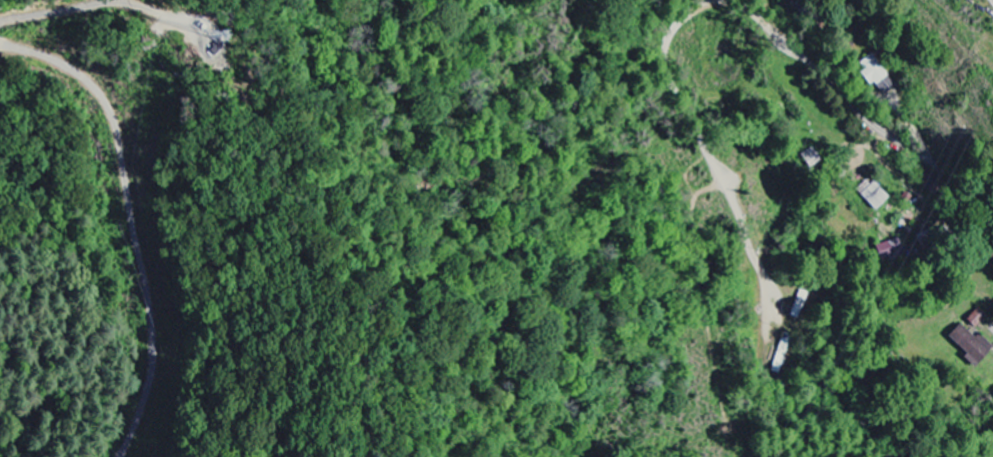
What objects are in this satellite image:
road: (754, 13)
building: (810, 158)
building: (871, 195)
road: (974, 195)
building: (976, 318)
building: (971, 345)

